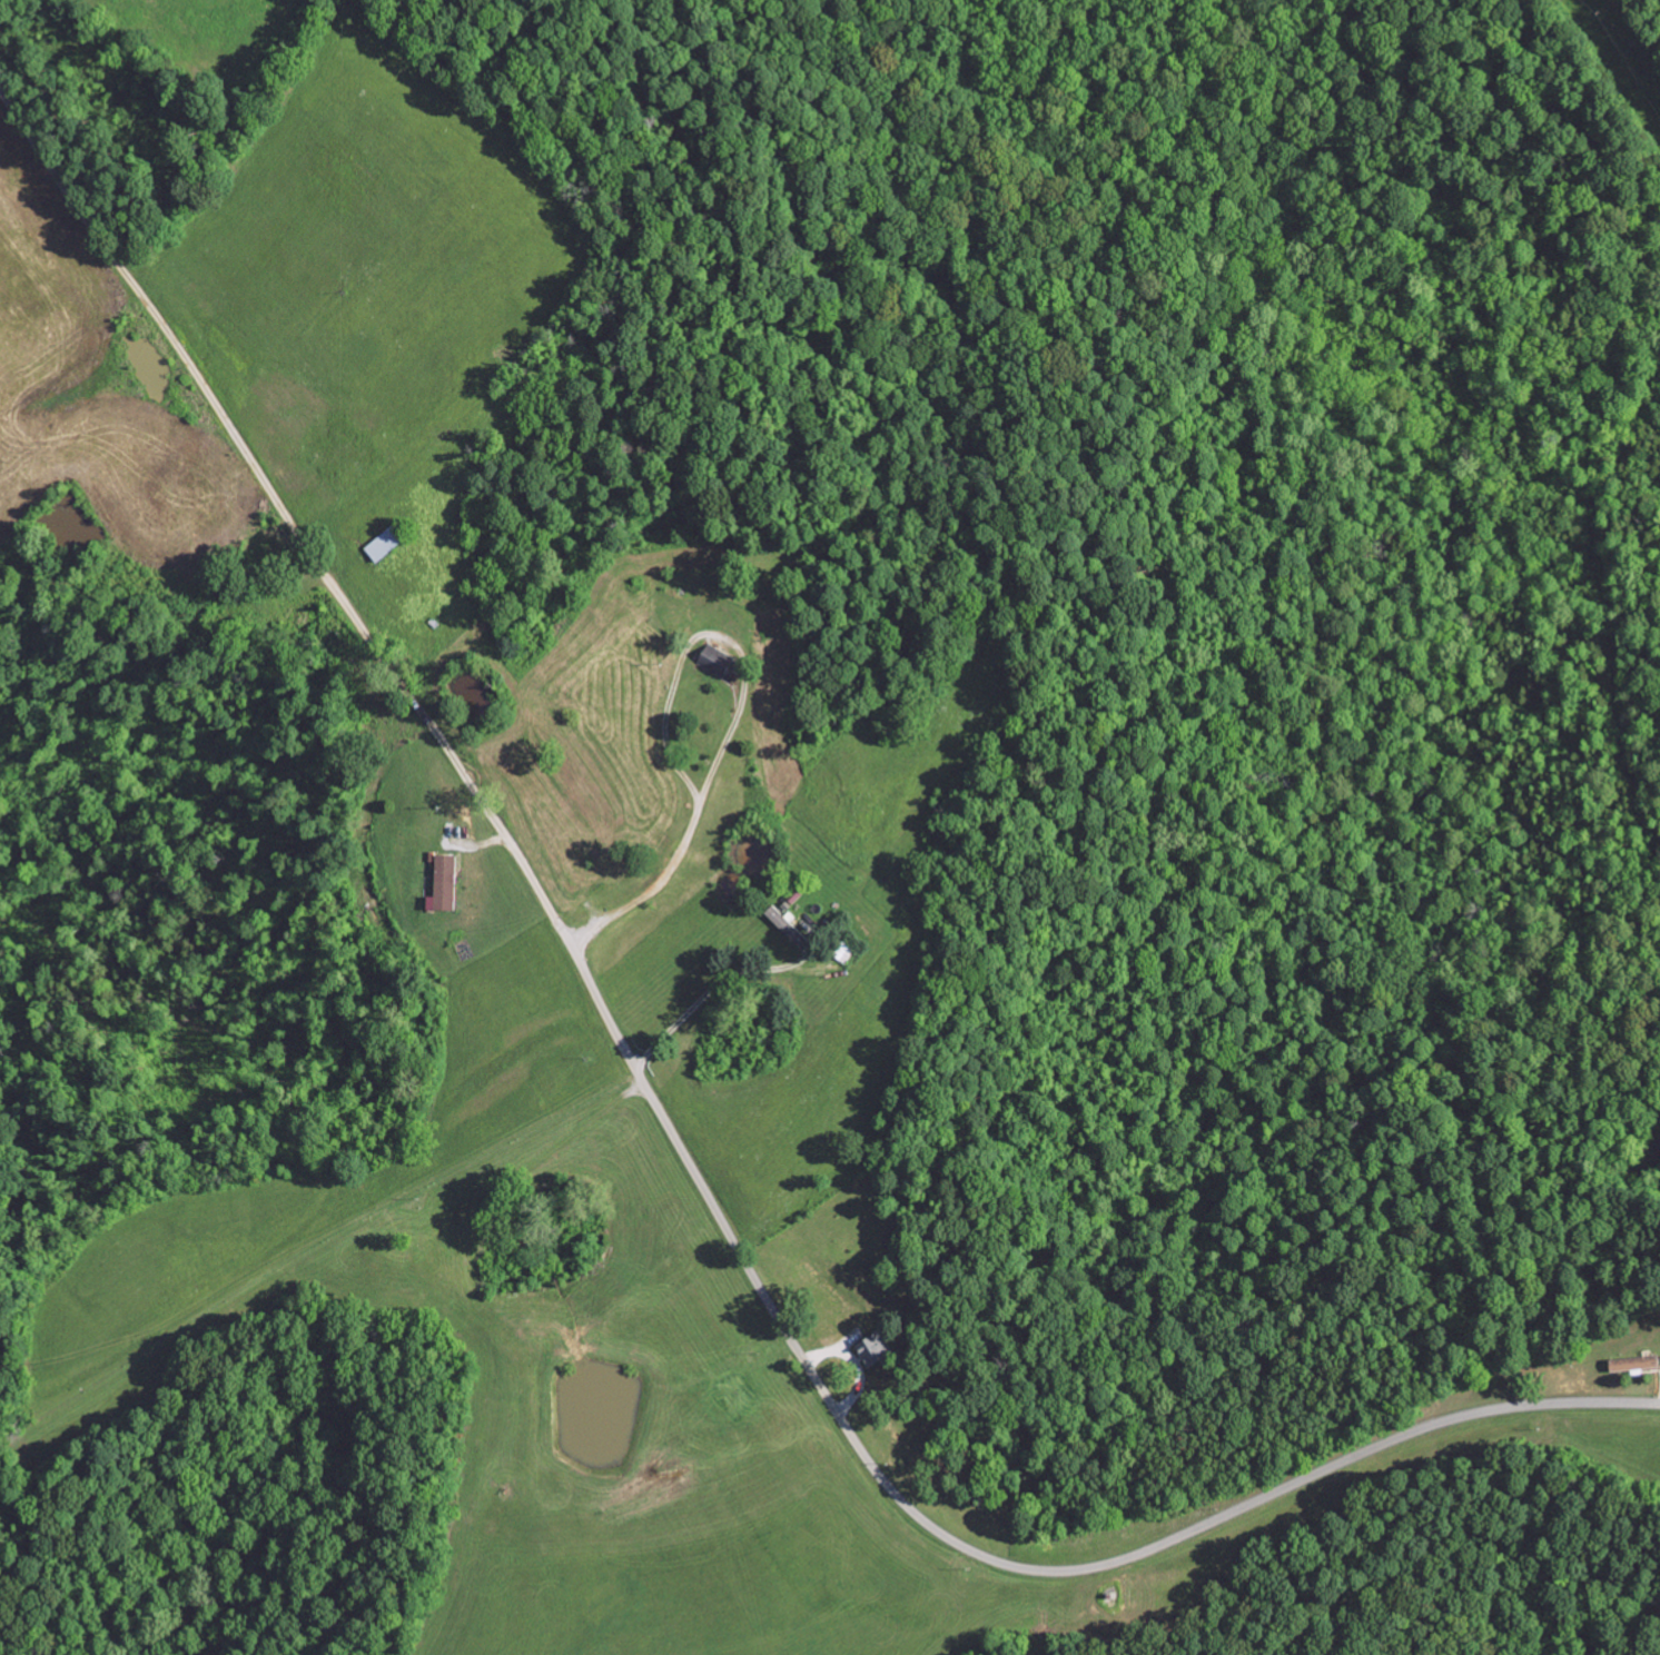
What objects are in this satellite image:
building: (718, 661)
road: (740, 706)
building: (444, 883)
building: (790, 926)
building: (841, 949)
road: (712, 987)
building: (876, 1349)
building: (1636, 1364)
building: (733, 1395)
road: (495, 1414)
road: (859, 1447)

